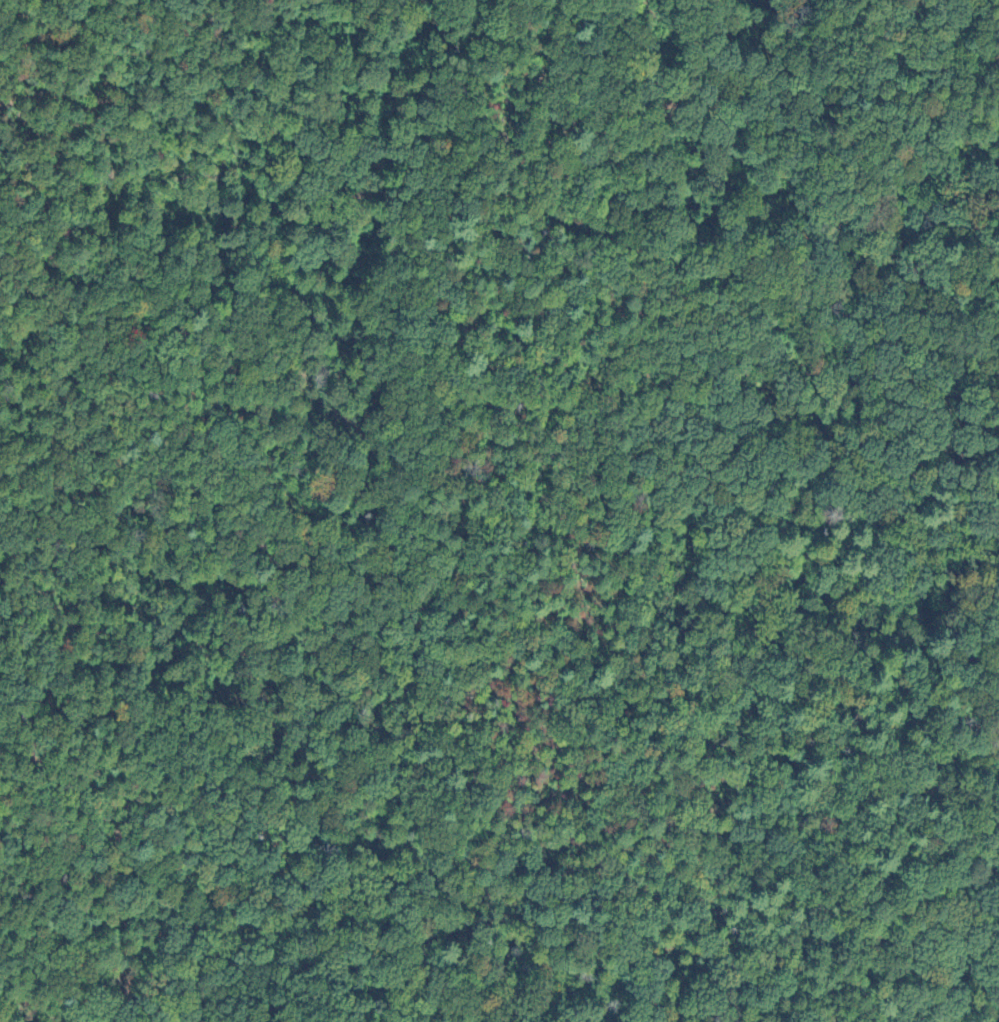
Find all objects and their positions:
road: (290, 318)

